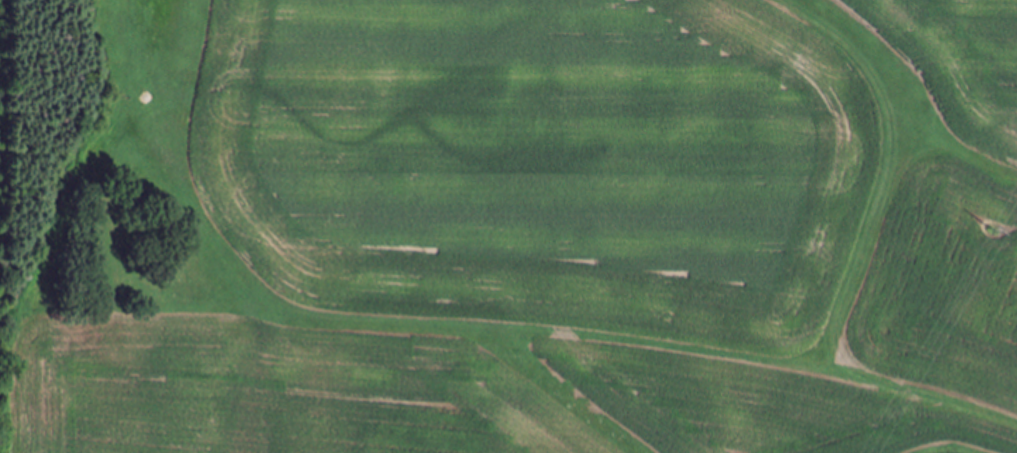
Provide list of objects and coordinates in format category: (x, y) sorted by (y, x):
crop: (553, 231)
power tower: (999, 233)

